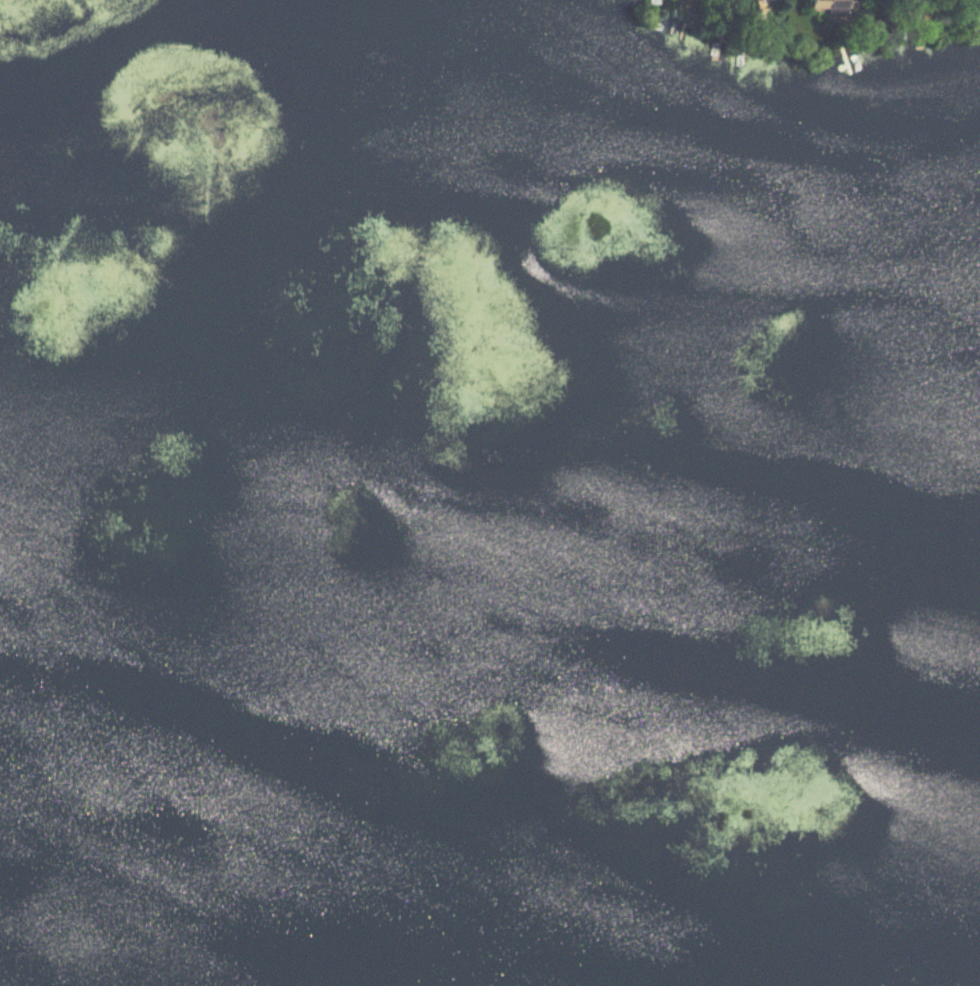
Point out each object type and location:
building: (822, 6)

